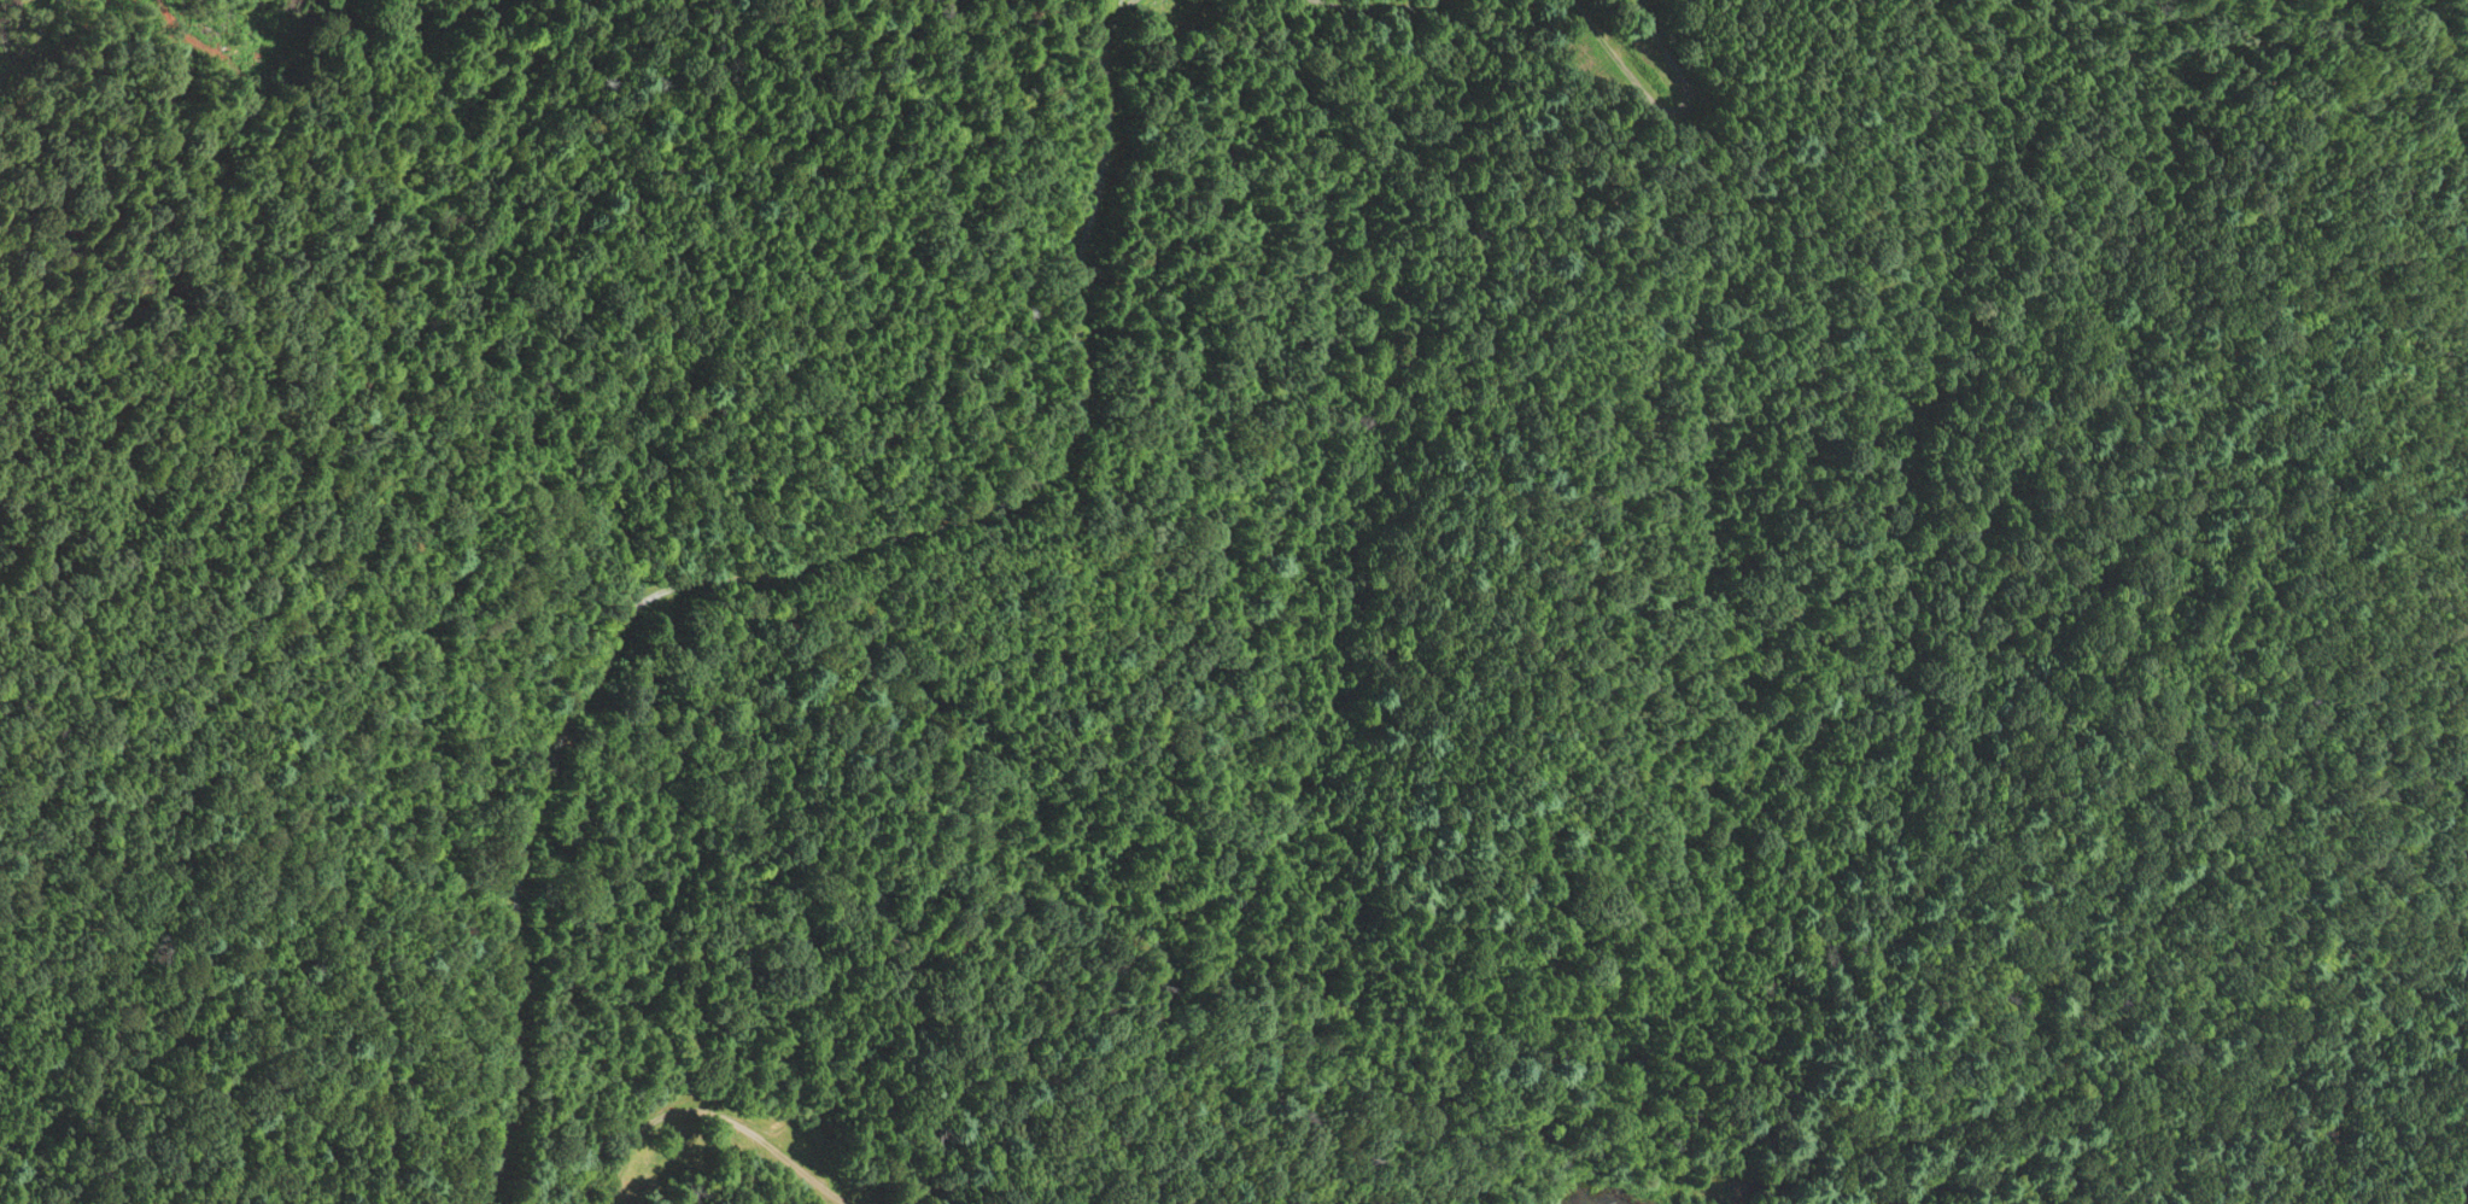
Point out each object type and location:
park: (2440, 530)

